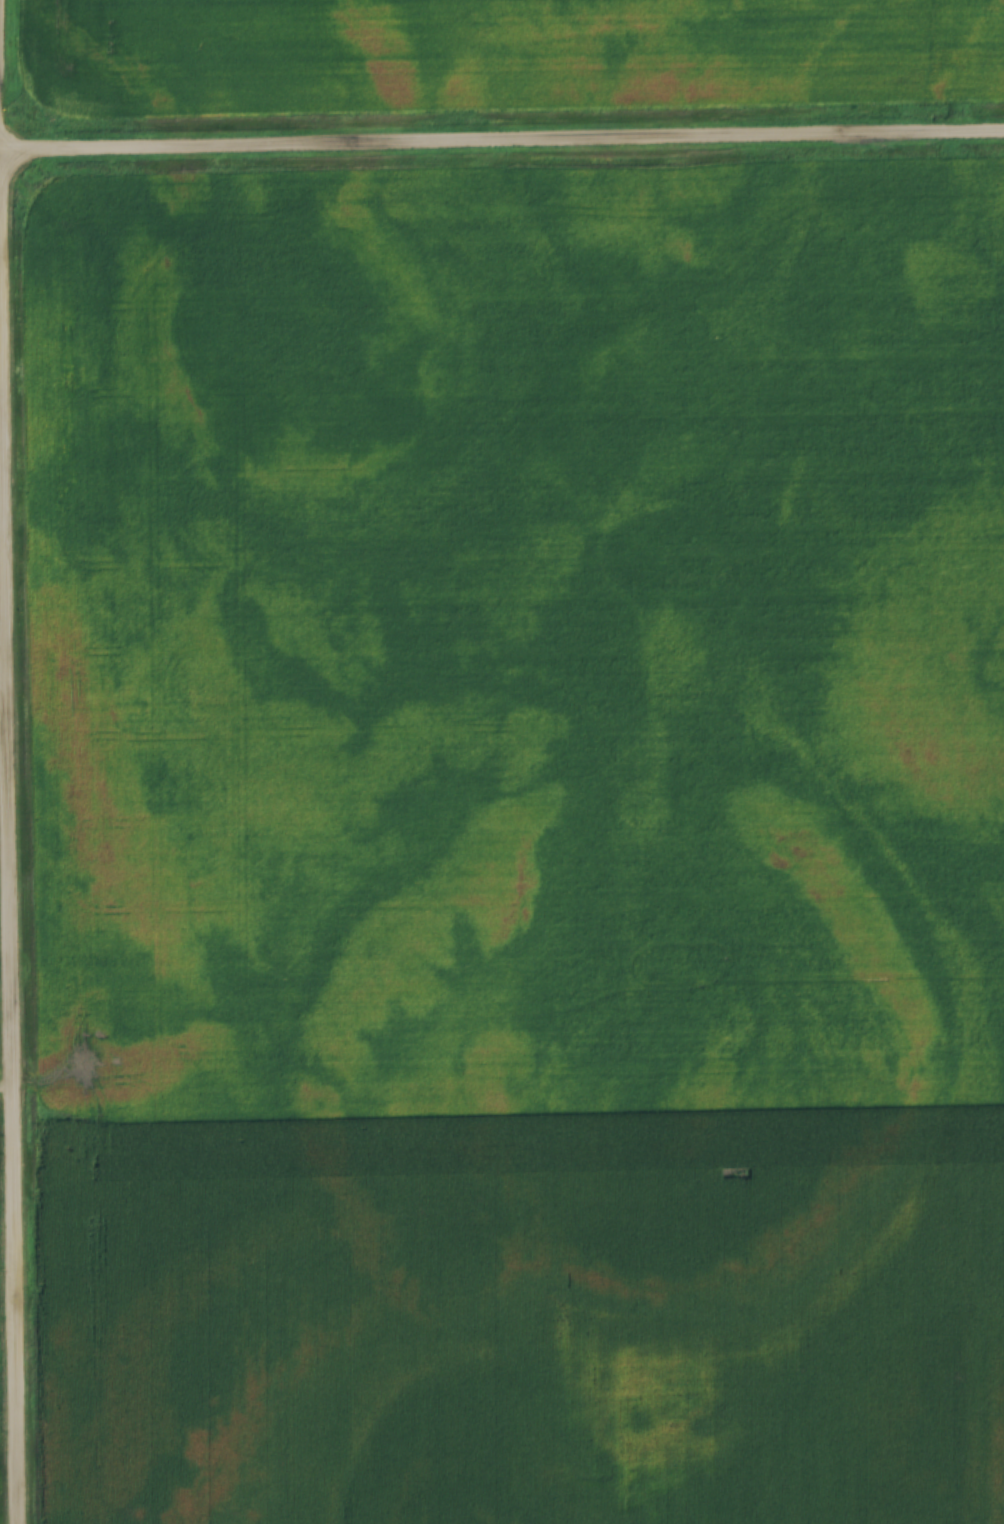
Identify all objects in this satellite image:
road: (502, 141)
road: (2, 944)

